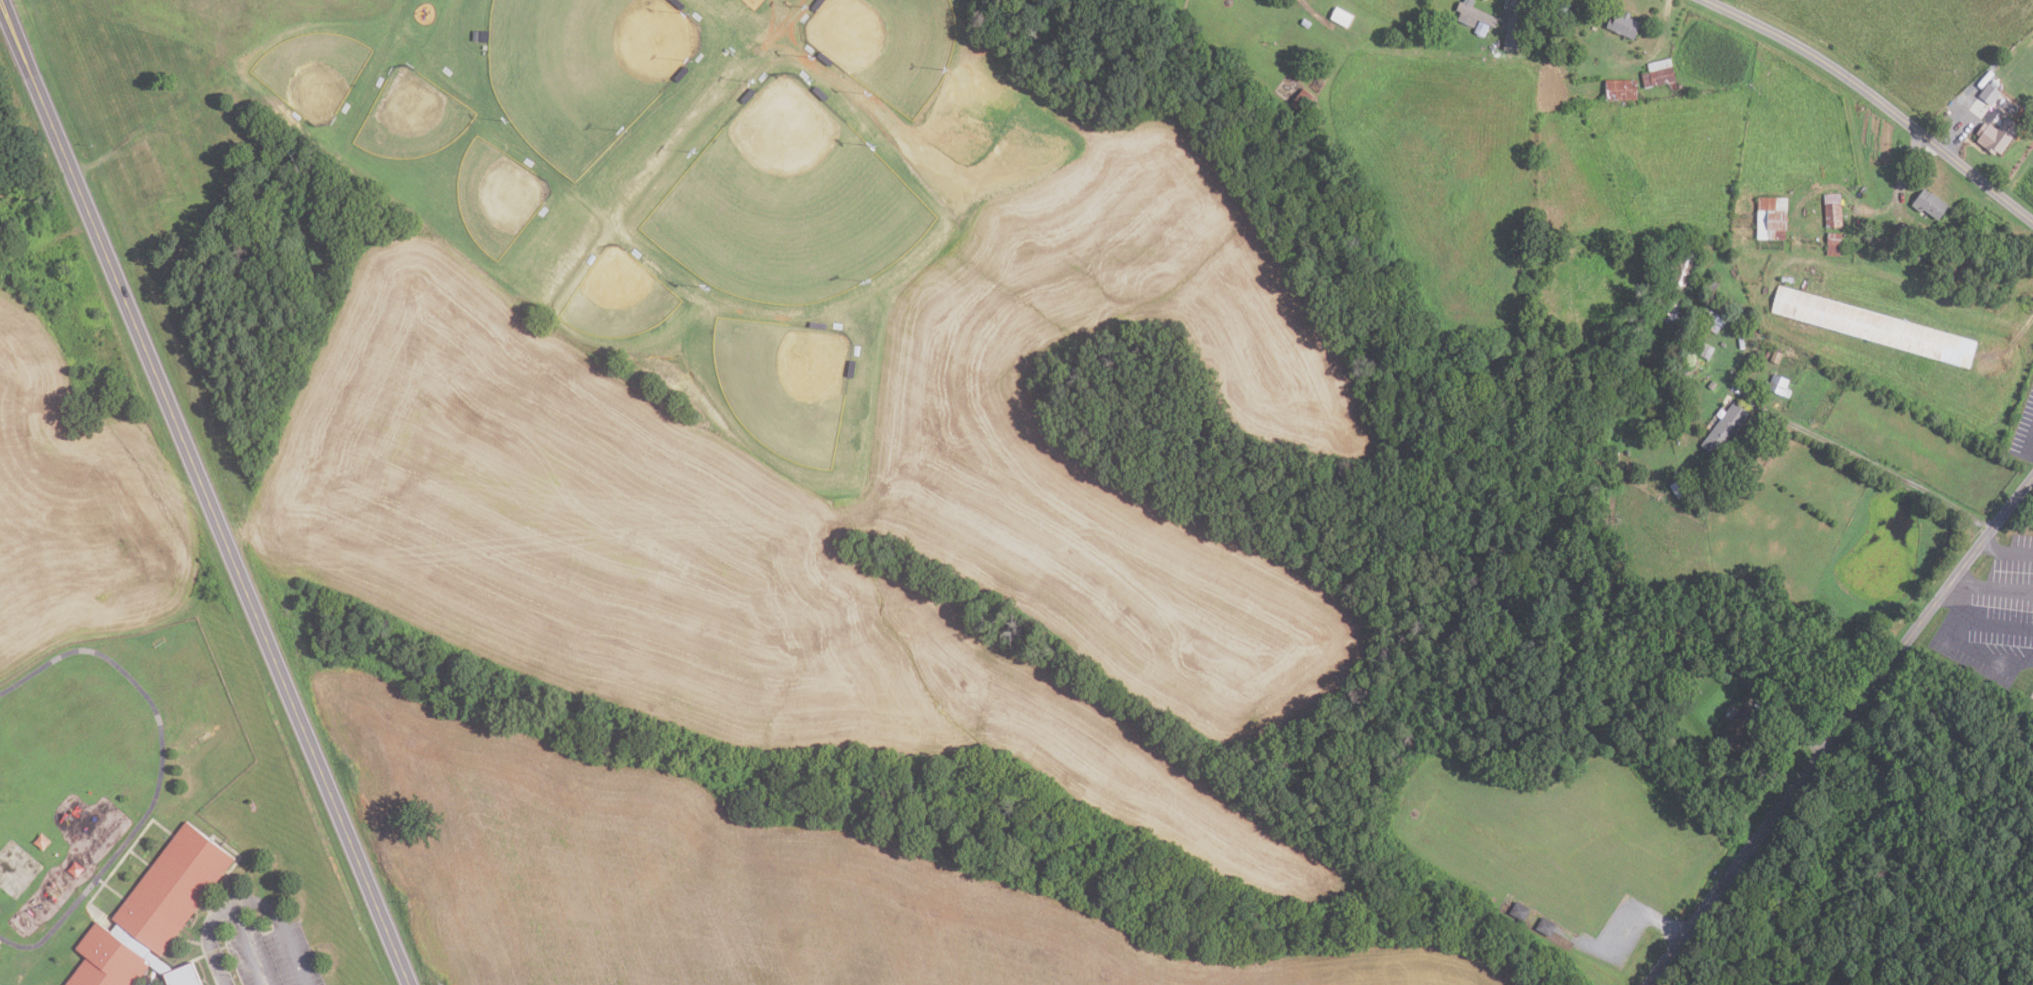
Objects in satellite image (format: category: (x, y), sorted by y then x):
building: (1562, 13)
building: (1473, 14)
building: (1341, 17)
building: (1306, 23)
building: (1625, 25)
building: (1482, 28)
building: (1594, 28)
park: (888, 45)
building: (1508, 45)
park: (584, 69)
building: (1660, 75)
building: (1621, 90)
building: (1990, 94)
road: (1877, 99)
road: (1957, 128)
building: (1998, 136)
road: (1905, 165)
crop: (2023, 180)
park: (788, 204)
building: (1931, 204)
building: (1833, 210)
building: (1772, 218)
building: (1904, 234)
building: (1834, 244)
building: (1717, 318)
building: (1874, 325)
building: (1715, 328)
road: (2010, 342)
building: (1706, 350)
building: (1776, 356)
building: (1779, 383)
building: (1712, 384)
building: (1726, 428)
parking lot: (2024, 435)
road: (2031, 445)
road: (1868, 461)
building: (1680, 488)
road: (204, 492)
crop: (868, 501)
road: (2006, 551)
road: (1991, 590)
parking lot: (1993, 619)
road: (1985, 621)
parking lot: (2032, 695)
road: (1837, 729)
building: (1738, 732)
road: (159, 771)
crop: (1555, 835)
building: (42, 842)
park: (16, 868)
building: (76, 869)
crop: (723, 879)
building: (172, 887)
road: (245, 900)
building: (1520, 910)
building: (1546, 927)
road: (247, 944)
building: (106, 960)
building: (182, 975)

